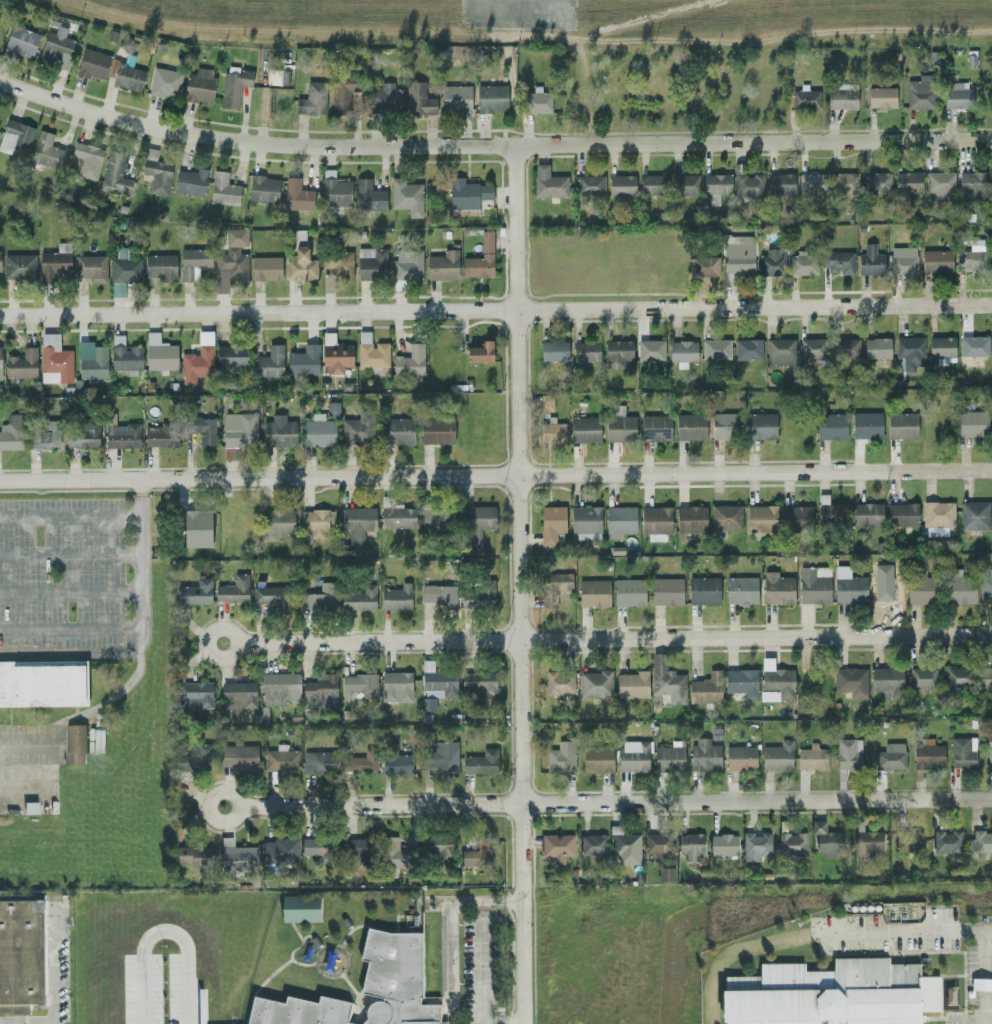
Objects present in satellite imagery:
building: (21, 41)
building: (126, 44)
building: (56, 48)
building: (92, 64)
building: (128, 77)
building: (164, 82)
building: (199, 85)
building: (234, 85)
building: (920, 93)
building: (342, 94)
building: (956, 95)
building: (842, 96)
building: (455, 97)
building: (881, 97)
building: (384, 98)
building: (491, 98)
building: (805, 98)
building: (312, 99)
building: (418, 99)
building: (538, 101)
building: (15, 138)
road: (491, 146)
building: (46, 150)
building: (87, 160)
building: (114, 174)
building: (157, 175)
building: (876, 181)
building: (190, 182)
building: (845, 182)
building: (908, 182)
building: (549, 183)
building: (812, 183)
building: (971, 183)
building: (780, 184)
building: (652, 185)
building: (685, 185)
building: (990, 185)
building: (589, 186)
building: (621, 186)
building: (716, 186)
building: (749, 186)
building: (940, 186)
building: (223, 189)
building: (263, 189)
building: (467, 193)
building: (297, 195)
building: (335, 195)
building: (368, 196)
building: (406, 196)
building: (233, 255)
building: (738, 255)
building: (971, 257)
building: (480, 259)
building: (0, 260)
building: (870, 260)
building: (902, 260)
building: (936, 261)
building: (54, 262)
building: (772, 262)
building: (837, 262)
building: (193, 263)
building: (371, 263)
building: (802, 263)
building: (337, 264)
building: (300, 265)
building: (443, 265)
building: (19, 266)
building: (160, 266)
building: (408, 266)
building: (704, 266)
building: (124, 267)
building: (91, 268)
building: (266, 268)
road: (495, 310)
building: (974, 346)
building: (941, 347)
building: (846, 348)
building: (876, 348)
building: (715, 349)
building: (748, 349)
building: (812, 349)
building: (650, 350)
building: (553, 351)
building: (586, 351)
building: (780, 351)
building: (480, 352)
building: (682, 352)
building: (910, 352)
building: (159, 353)
building: (617, 353)
building: (125, 355)
building: (373, 355)
building: (231, 356)
building: (336, 357)
building: (198, 359)
building: (54, 360)
building: (304, 360)
building: (409, 361)
building: (270, 362)
building: (0, 363)
building: (21, 364)
building: (94, 364)
building: (546, 401)
building: (972, 424)
building: (866, 425)
building: (902, 425)
building: (690, 426)
building: (723, 426)
building: (831, 426)
building: (655, 427)
building: (620, 428)
building: (239, 429)
building: (585, 429)
building: (204, 430)
building: (436, 430)
building: (318, 431)
building: (356, 431)
building: (397, 431)
building: (11, 432)
building: (279, 432)
building: (121, 433)
building: (82, 434)
building: (161, 434)
building: (44, 436)
road: (496, 476)
building: (830, 512)
building: (902, 514)
building: (938, 514)
building: (867, 515)
building: (974, 515)
road: (70, 517)
building: (397, 517)
building: (437, 517)
building: (726, 517)
building: (761, 518)
building: (796, 518)
building: (690, 519)
building: (477, 520)
building: (277, 521)
building: (619, 521)
building: (317, 522)
building: (586, 522)
building: (357, 523)
building: (551, 523)
building: (656, 523)
building: (197, 528)
road: (70, 555)
road: (140, 562)
road: (523, 585)
building: (814, 585)
building: (555, 587)
building: (985, 587)
building: (777, 588)
building: (886, 588)
building: (850, 589)
building: (960, 589)
building: (233, 590)
building: (703, 590)
building: (741, 590)
building: (921, 590)
building: (666, 591)
road: (70, 592)
building: (196, 592)
building: (629, 592)
building: (477, 593)
building: (594, 593)
building: (439, 595)
building: (269, 596)
building: (396, 597)
building: (320, 598)
building: (359, 598)
road: (70, 630)
road: (608, 639)
road: (70, 655)
building: (957, 677)
building: (922, 678)
building: (984, 678)
building: (666, 680)
building: (777, 680)
building: (850, 680)
building: (887, 681)
building: (43, 682)
building: (741, 682)
building: (478, 683)
building: (559, 683)
building: (360, 684)
building: (595, 684)
building: (631, 684)
building: (435, 685)
building: (396, 686)
building: (279, 688)
building: (706, 688)
building: (320, 691)
building: (196, 696)
building: (238, 696)
road: (71, 716)
building: (74, 744)
road: (34, 747)
building: (963, 752)
building: (927, 753)
building: (989, 753)
building: (848, 754)
building: (441, 755)
building: (704, 755)
building: (240, 756)
building: (633, 756)
building: (669, 756)
building: (777, 756)
building: (890, 756)
building: (561, 757)
building: (812, 757)
building: (740, 758)
building: (597, 759)
building: (195, 761)
building: (282, 761)
building: (320, 763)
building: (363, 763)
building: (481, 763)
building: (396, 764)
road: (28, 789)
road: (608, 804)
building: (34, 809)
building: (828, 841)
building: (910, 843)
building: (949, 843)
building: (794, 845)
building: (870, 845)
building: (982, 845)
building: (595, 846)
building: (725, 846)
building: (660, 847)
building: (693, 847)
building: (757, 847)
building: (439, 848)
building: (559, 848)
building: (627, 848)
building: (320, 850)
building: (282, 852)
building: (360, 852)
building: (481, 854)
building: (398, 855)
building: (195, 857)
building: (238, 857)
building: (667, 876)
road: (469, 903)
building: (302, 910)
road: (820, 933)
road: (166, 936)
building: (22, 955)
road: (54, 964)
road: (451, 964)
road: (480, 970)
road: (984, 977)
building: (397, 980)
building: (833, 994)
building: (952, 997)
building: (301, 1012)
road: (978, 1022)
road: (502, 1023)

